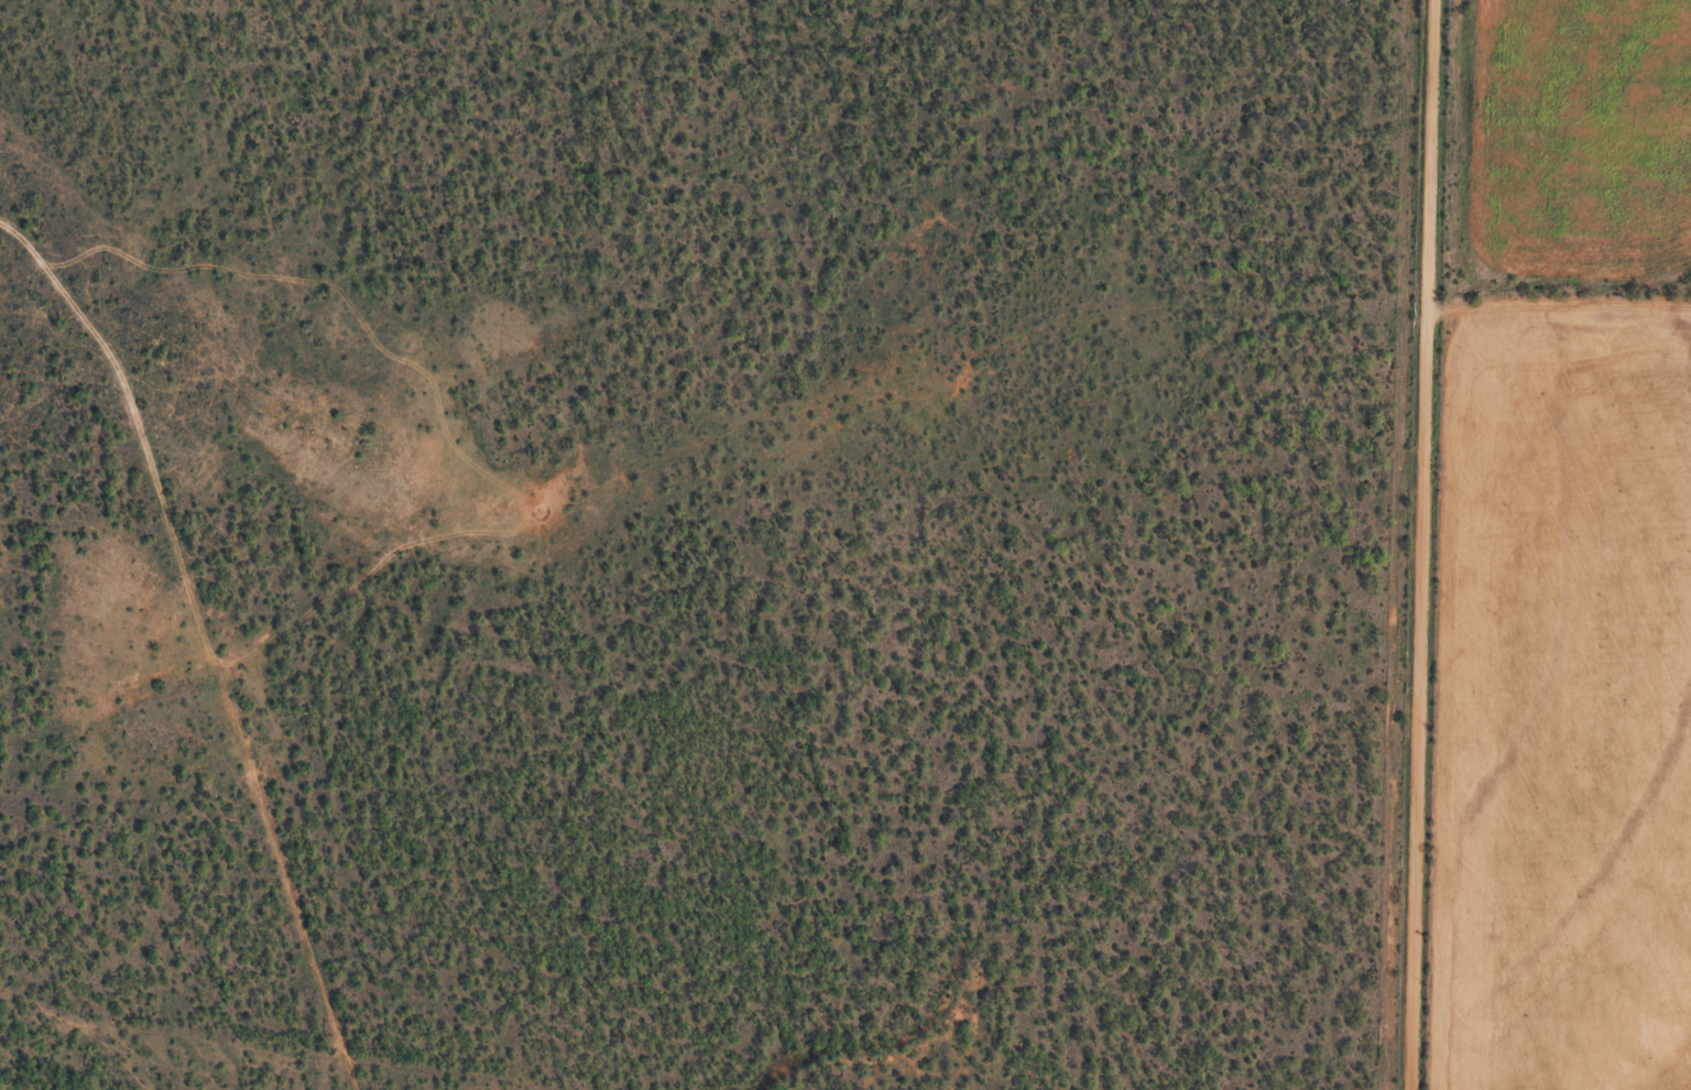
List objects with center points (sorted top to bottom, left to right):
road: (1420, 545)

